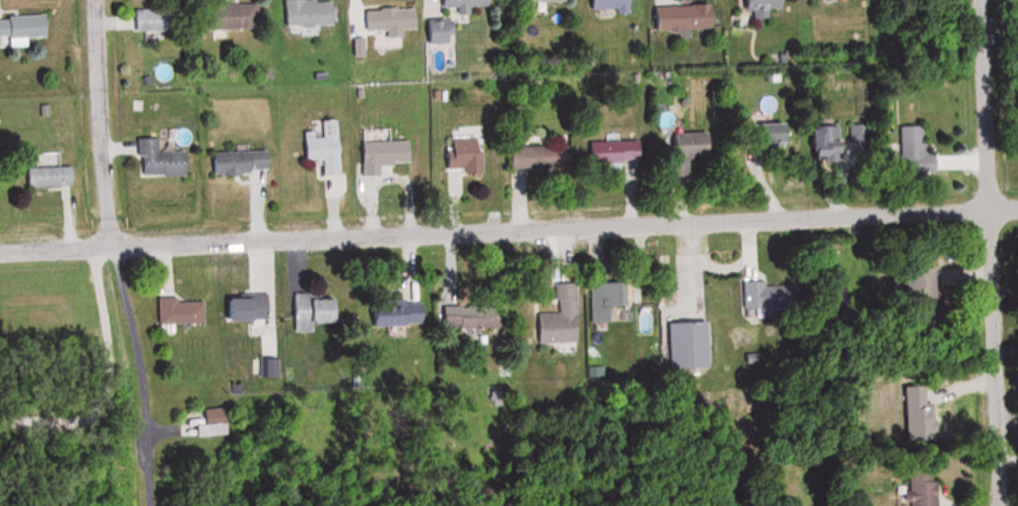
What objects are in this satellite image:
building: (538, 1)
building: (457, 5)
building: (604, 6)
building: (756, 7)
building: (303, 14)
building: (230, 16)
building: (678, 18)
building: (150, 20)
building: (385, 21)
building: (20, 27)
building: (434, 32)
road: (95, 125)
building: (820, 144)
building: (319, 148)
building: (611, 153)
building: (682, 153)
building: (913, 154)
building: (460, 155)
building: (379, 156)
building: (535, 160)
building: (156, 161)
building: (237, 166)
building: (45, 177)
road: (509, 233)
road: (984, 253)
building: (916, 286)
building: (763, 297)
building: (602, 301)
building: (242, 308)
building: (307, 311)
building: (175, 312)
building: (391, 313)
building: (554, 317)
building: (468, 318)
building: (684, 346)
road: (129, 377)
road: (103, 378)
building: (205, 429)
building: (918, 487)

